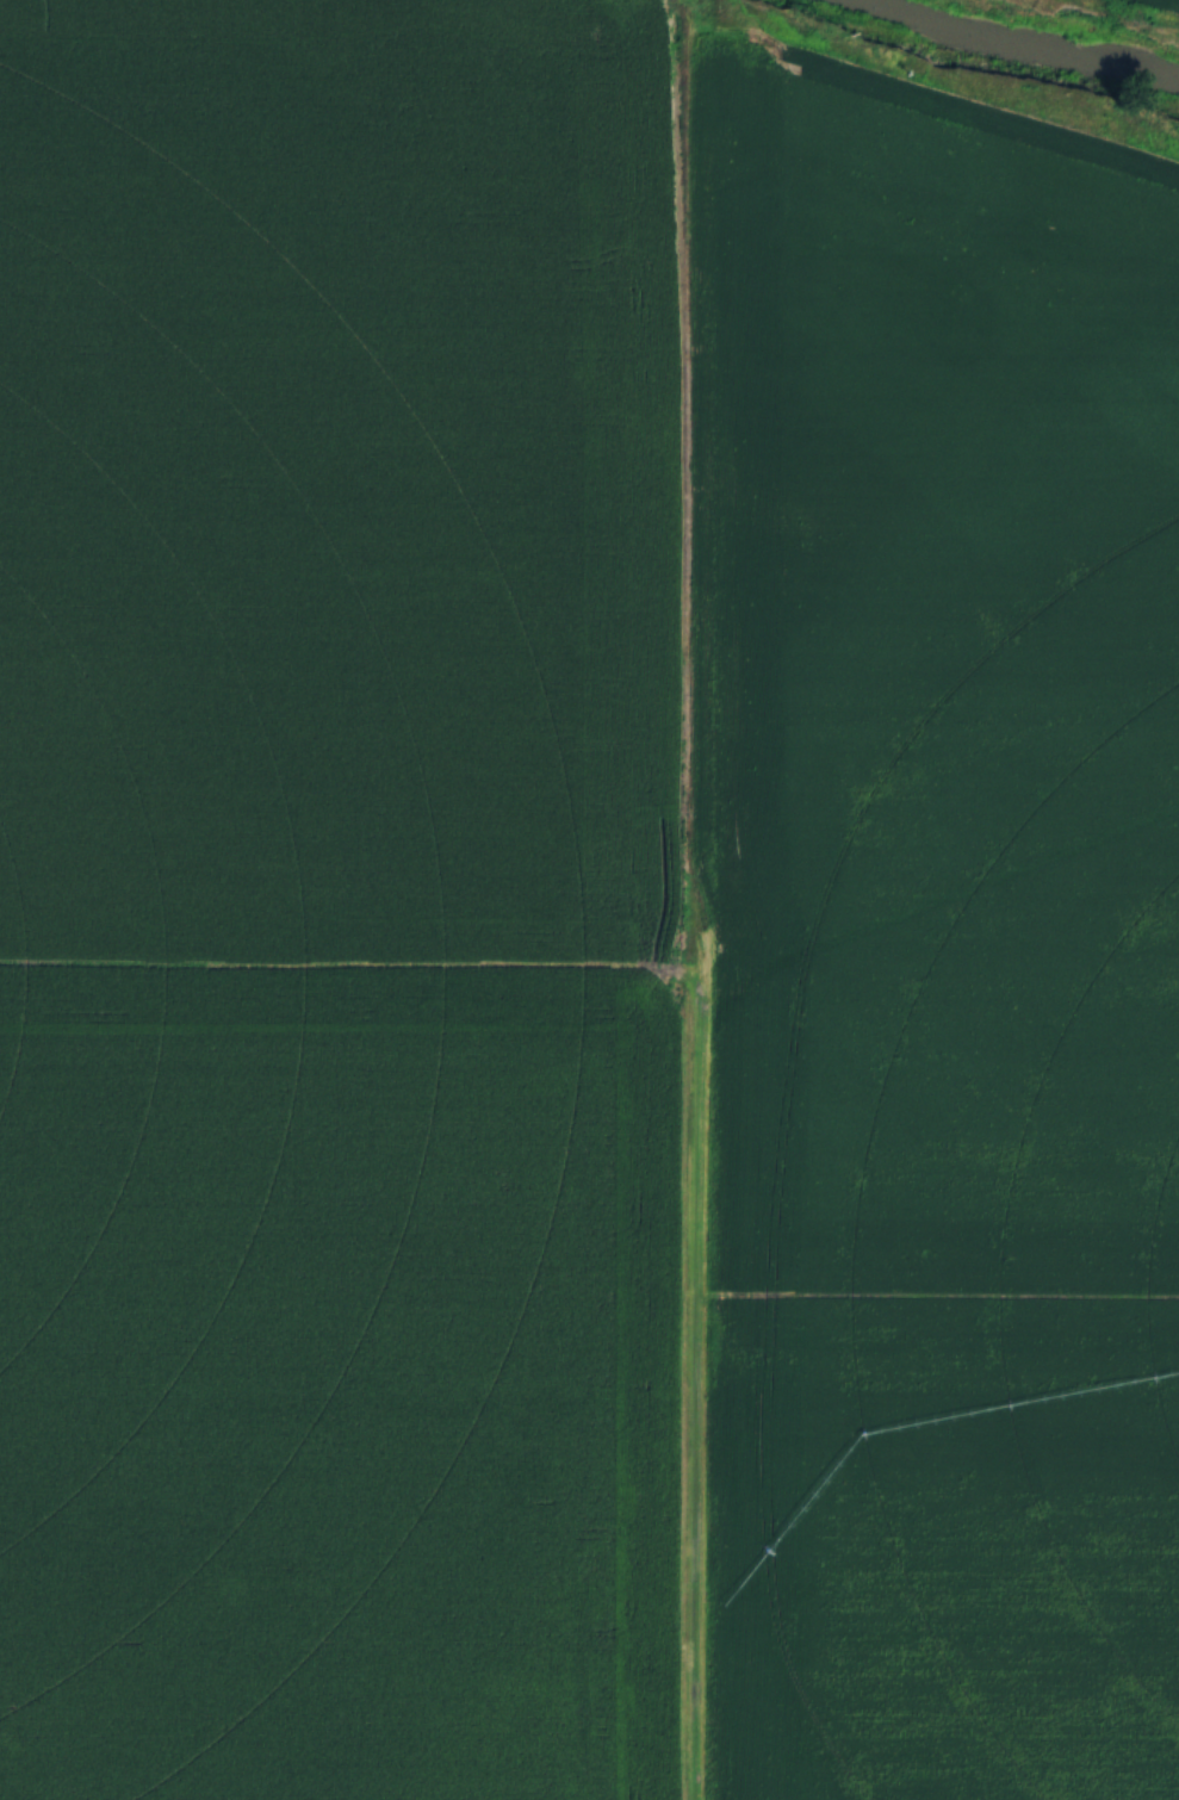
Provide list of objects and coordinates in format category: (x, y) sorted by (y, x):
river: (1016, 41)
road: (693, 899)

